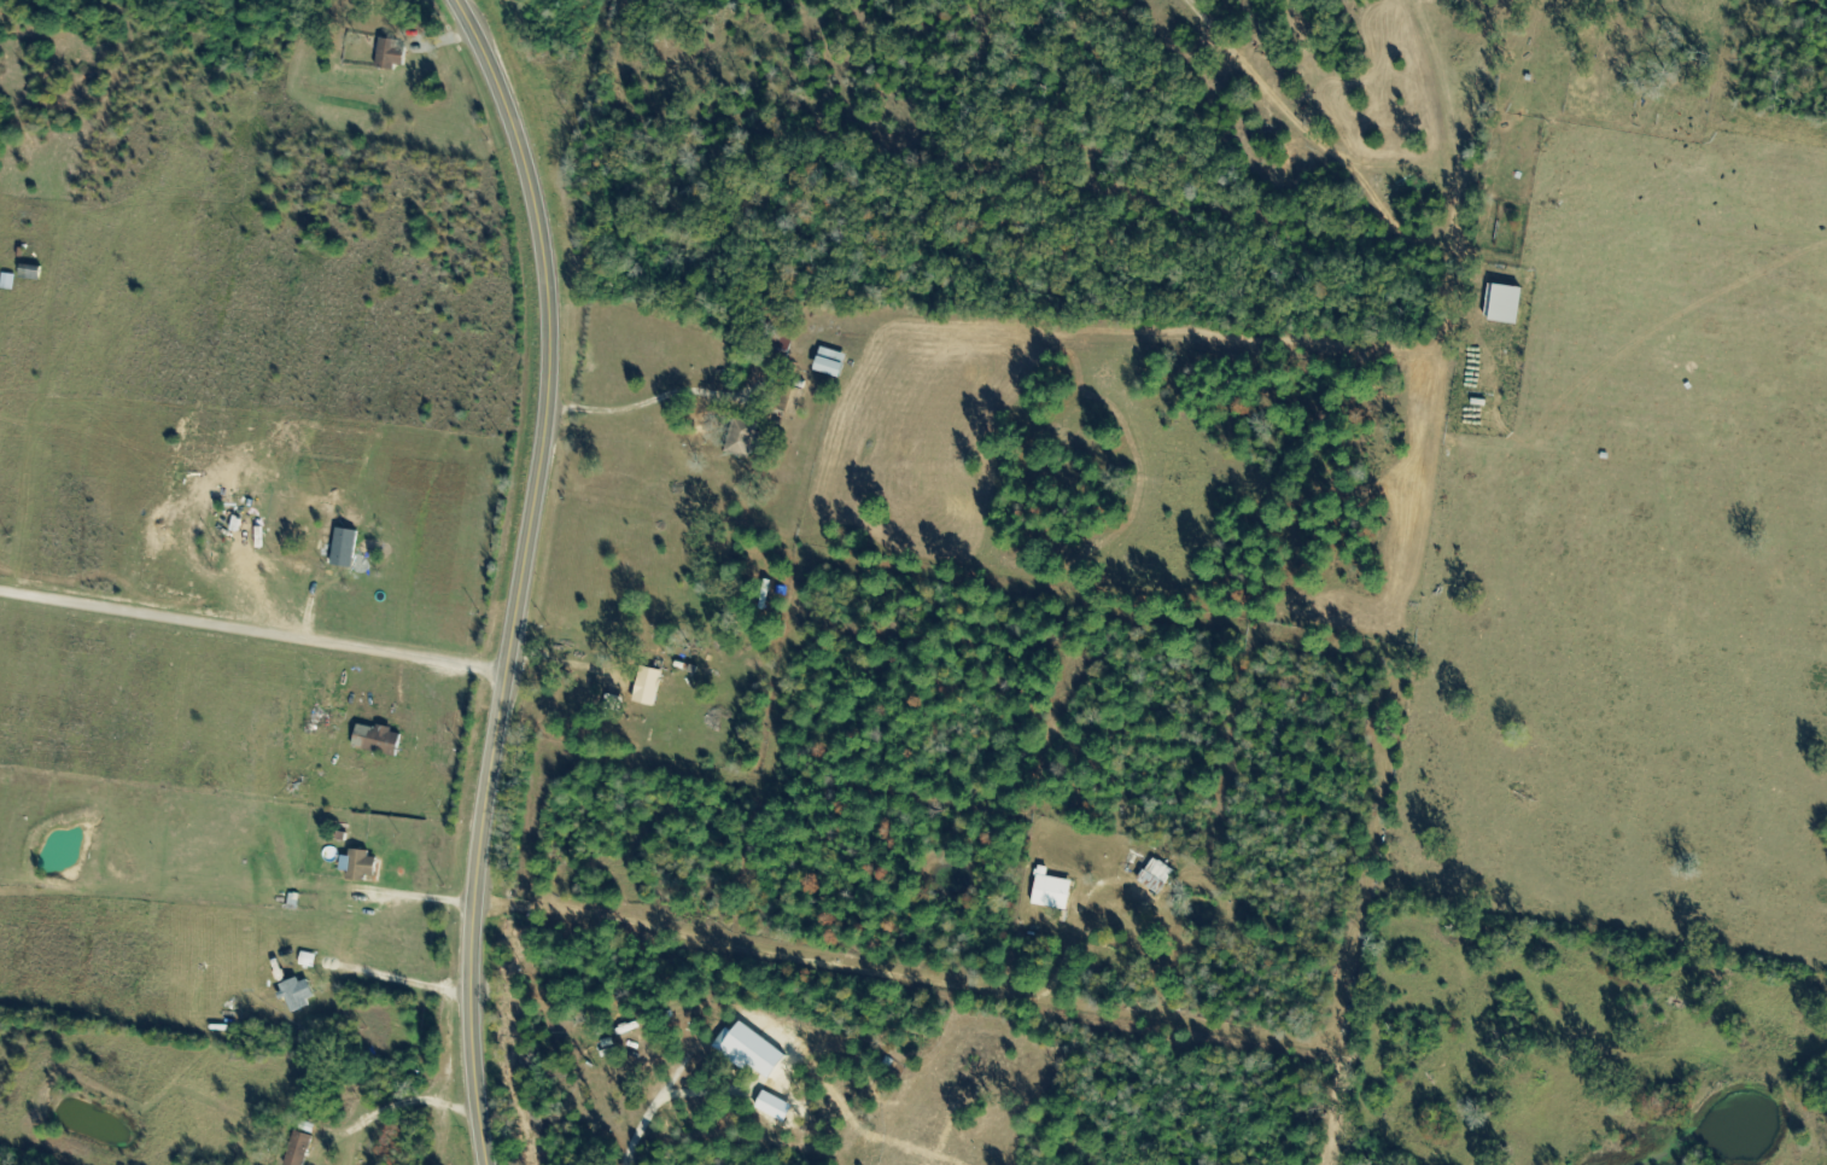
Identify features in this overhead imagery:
building: (392, 56)
building: (0, 270)
building: (1507, 307)
building: (348, 548)
road: (520, 575)
road: (252, 629)
building: (650, 687)
building: (380, 740)
building: (362, 866)
building: (1158, 876)
building: (1053, 893)
building: (310, 961)
building: (300, 994)
building: (302, 1149)

